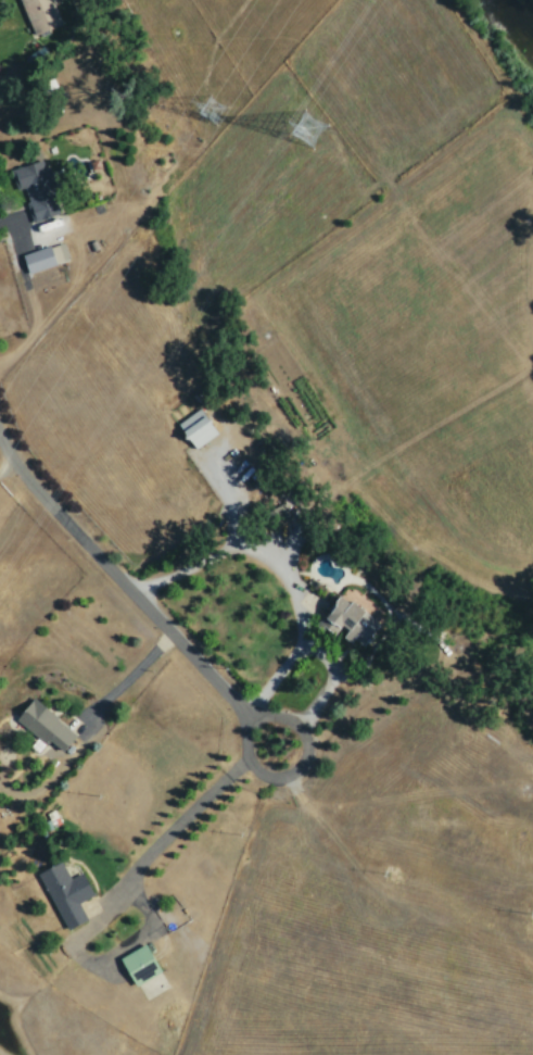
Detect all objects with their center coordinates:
building: (39, 15)
river: (515, 22)
power tower: (217, 95)
power tower: (309, 126)
building: (36, 190)
building: (43, 258)
building: (195, 428)
road: (126, 588)
building: (348, 619)
building: (45, 726)
road: (301, 761)
building: (65, 894)
building: (139, 965)

